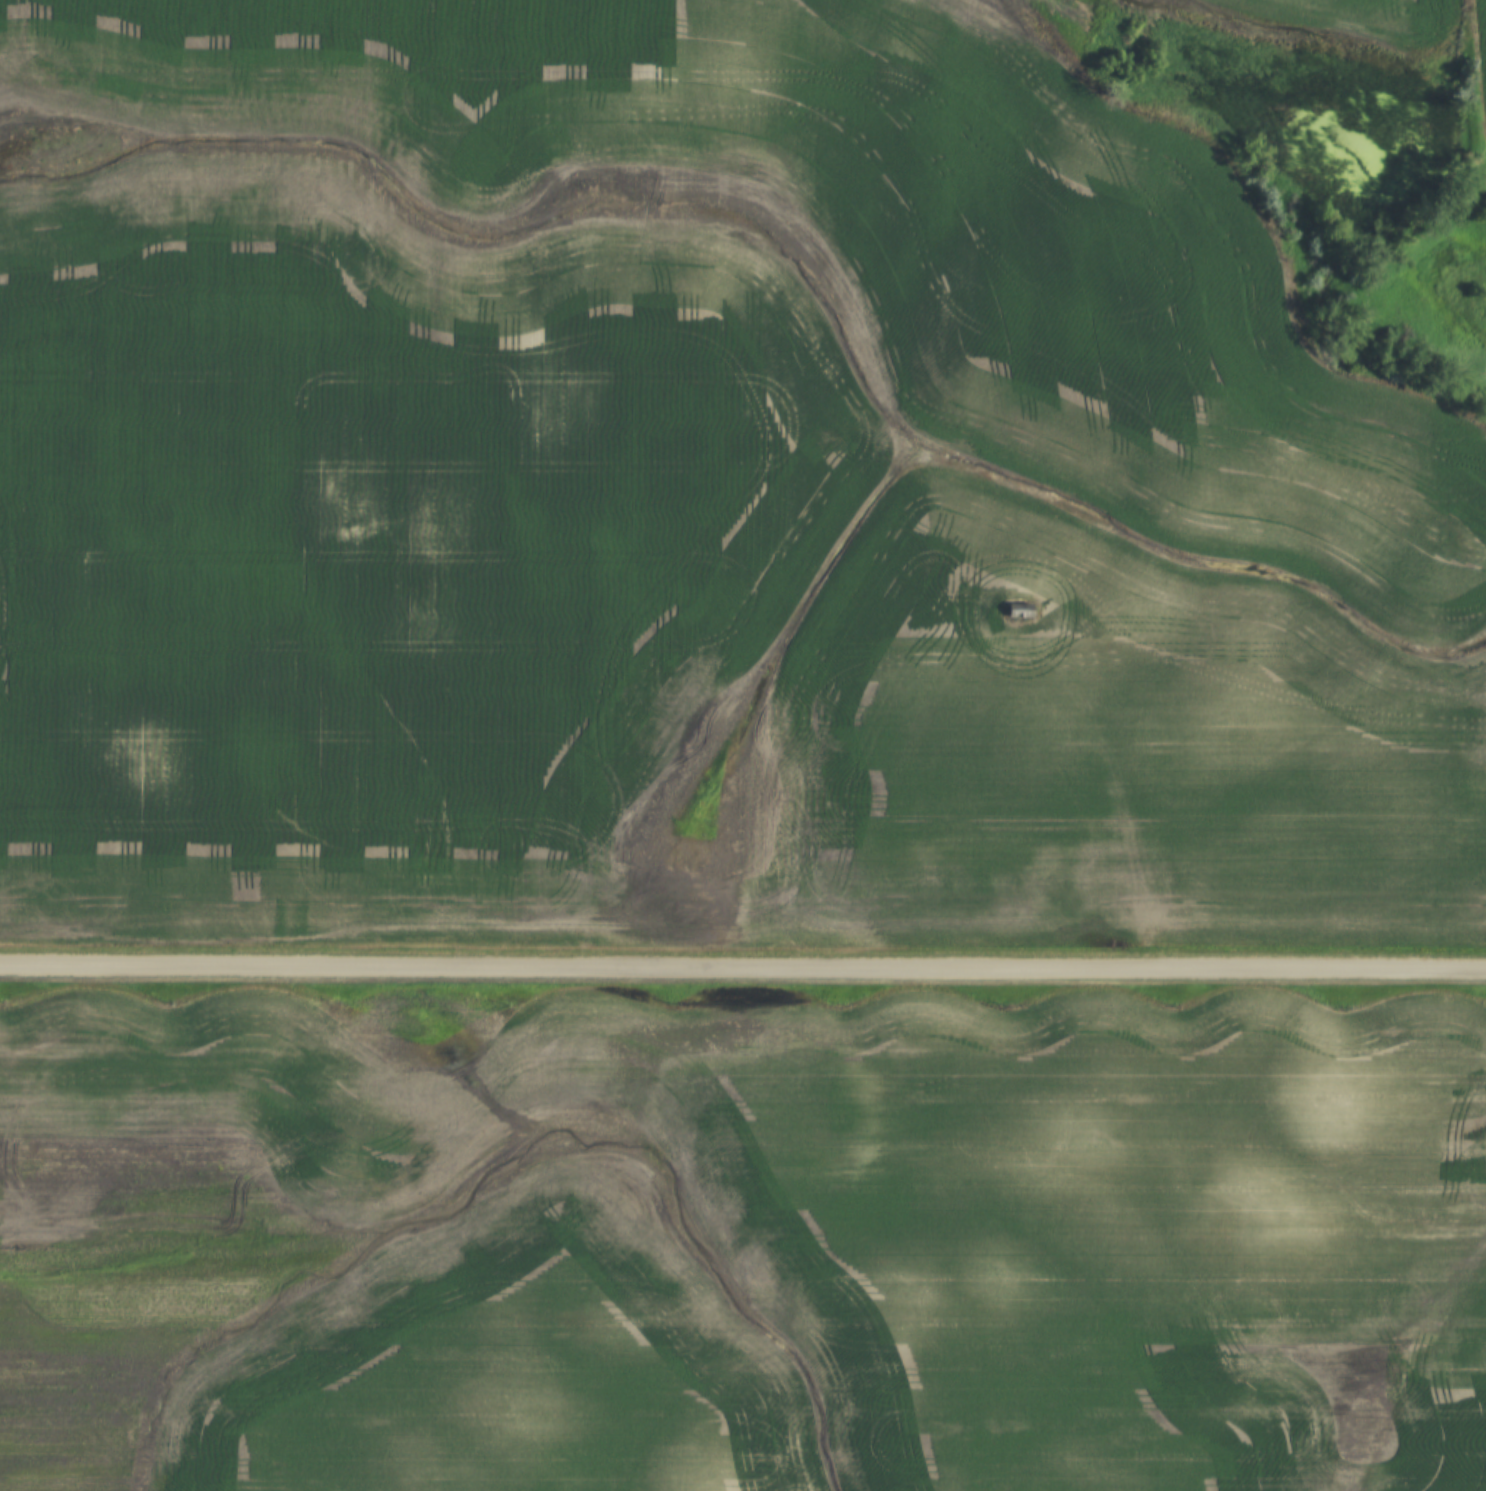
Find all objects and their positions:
building: (1021, 611)
road: (742, 968)

